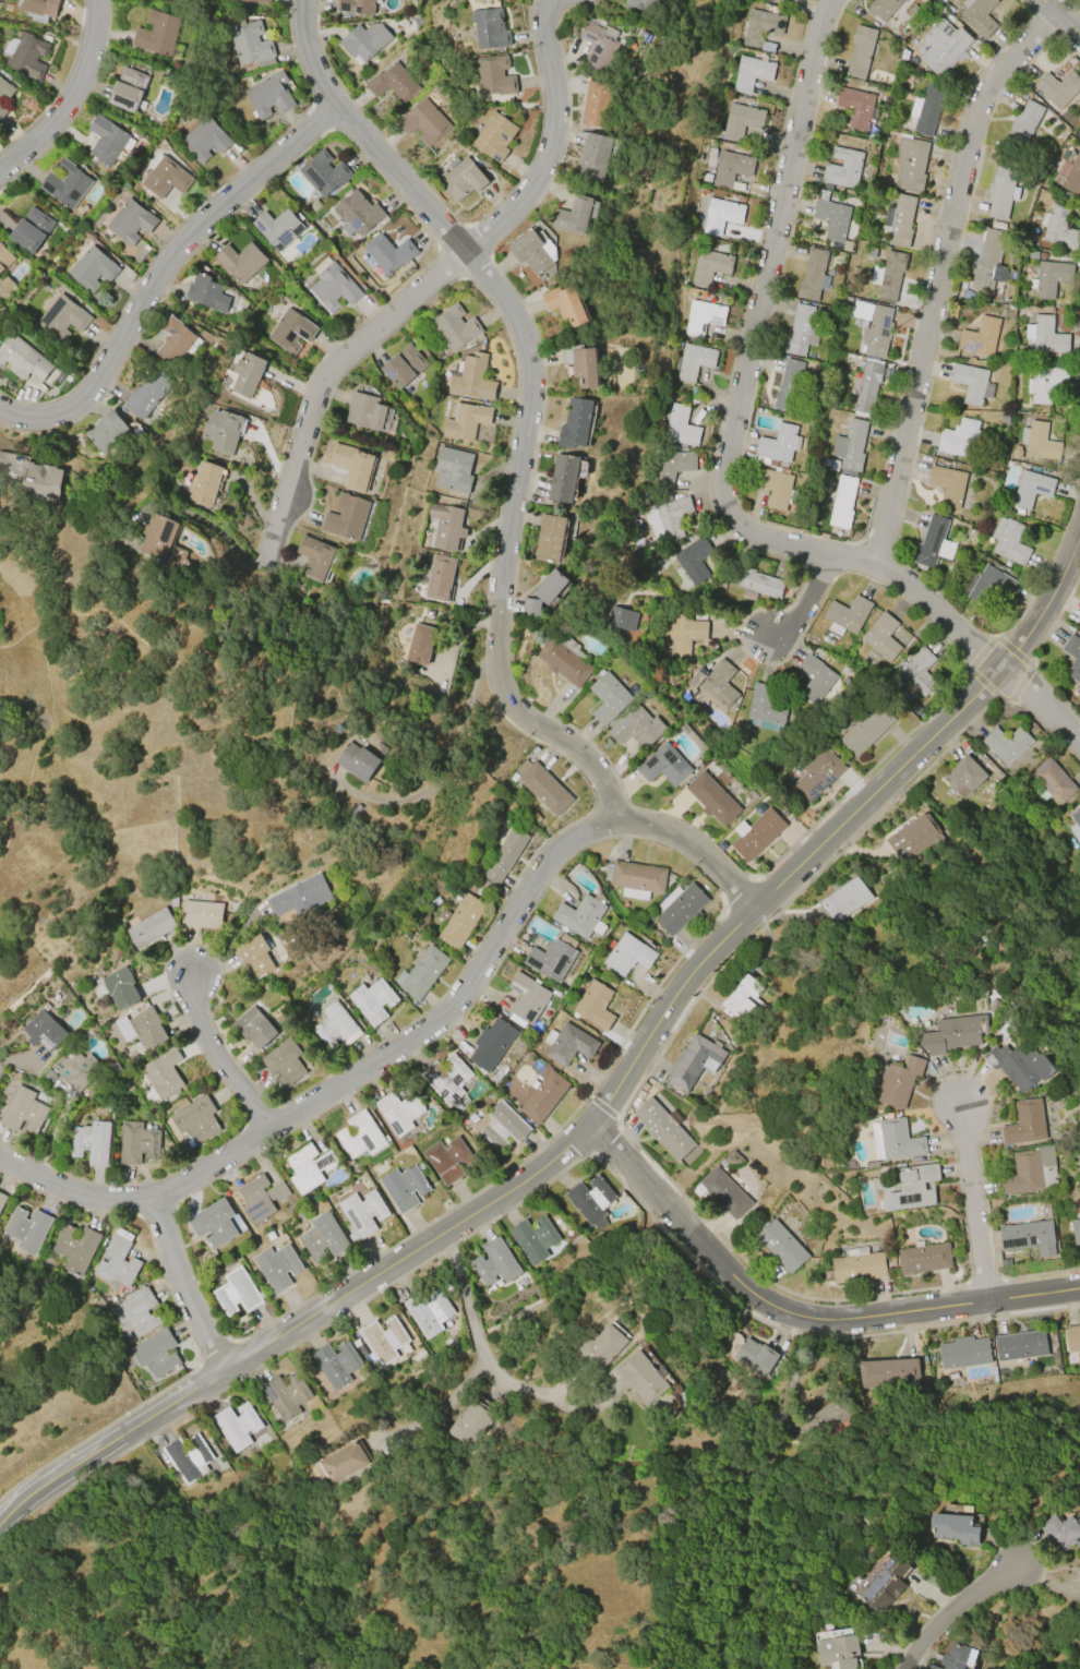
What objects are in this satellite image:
building: (257, 1)
building: (641, 4)
building: (356, 5)
building: (37, 9)
building: (881, 9)
building: (977, 15)
road: (1060, 20)
building: (489, 28)
building: (761, 28)
building: (156, 33)
building: (363, 40)
building: (250, 43)
building: (598, 45)
building: (944, 48)
building: (860, 51)
building: (25, 56)
building: (752, 73)
building: (494, 75)
building: (392, 82)
building: (1058, 88)
building: (128, 89)
building: (3, 95)
building: (268, 95)
road: (73, 98)
building: (597, 104)
building: (857, 107)
building: (926, 109)
building: (741, 120)
building: (423, 122)
building: (1023, 124)
building: (494, 136)
building: (107, 139)
road: (551, 139)
building: (205, 140)
building: (595, 157)
building: (910, 164)
building: (843, 168)
building: (731, 169)
building: (324, 173)
building: (1072, 176)
building: (167, 177)
building: (459, 179)
building: (889, 179)
building: (67, 184)
building: (999, 193)
building: (357, 213)
building: (720, 215)
building: (573, 216)
building: (831, 219)
building: (899, 220)
building: (131, 221)
building: (277, 228)
building: (1059, 228)
building: (29, 229)
building: (532, 252)
building: (387, 254)
building: (4, 259)
building: (240, 262)
building: (988, 262)
building: (709, 266)
building: (93, 269)
road: (166, 274)
building: (812, 275)
building: (888, 275)
road: (938, 275)
building: (1049, 278)
building: (5, 286)
building: (333, 288)
building: (206, 293)
building: (566, 303)
building: (861, 311)
road: (759, 313)
building: (701, 316)
building: (62, 317)
building: (455, 327)
building: (290, 331)
building: (799, 331)
building: (877, 332)
building: (1045, 335)
building: (979, 337)
building: (176, 340)
building: (23, 358)
building: (693, 361)
building: (583, 364)
building: (403, 367)
building: (247, 374)
building: (472, 379)
building: (970, 383)
building: (1045, 383)
building: (788, 385)
building: (867, 386)
road: (317, 388)
building: (146, 394)
road: (529, 398)
building: (369, 413)
building: (1004, 420)
building: (466, 421)
building: (576, 424)
building: (680, 427)
building: (106, 431)
building: (223, 431)
building: (958, 437)
building: (1037, 441)
building: (779, 444)
building: (850, 447)
building: (1016, 453)
building: (352, 464)
building: (827, 464)
building: (672, 466)
building: (453, 470)
building: (563, 478)
building: (39, 480)
building: (205, 482)
building: (948, 484)
building: (776, 489)
building: (1031, 489)
building: (841, 502)
building: (346, 516)
building: (668, 518)
road: (203, 520)
building: (446, 525)
building: (970, 532)
building: (158, 536)
building: (550, 538)
building: (1009, 540)
building: (933, 542)
building: (315, 557)
building: (693, 560)
building: (440, 578)
building: (753, 581)
building: (989, 585)
building: (550, 586)
road: (811, 599)
building: (530, 607)
building: (847, 614)
building: (621, 619)
building: (1079, 621)
building: (684, 635)
road: (965, 636)
building: (883, 637)
building: (420, 644)
building: (1072, 658)
building: (563, 662)
building: (916, 672)
building: (815, 680)
building: (719, 685)
building: (608, 698)
building: (914, 708)
building: (765, 709)
building: (636, 727)
building: (866, 730)
building: (1007, 744)
building: (357, 761)
road: (447, 765)
building: (663, 765)
building: (817, 775)
building: (962, 776)
building: (1054, 781)
building: (542, 788)
building: (711, 797)
building: (1076, 827)
building: (756, 833)
building: (910, 836)
road: (695, 848)
building: (504, 855)
building: (634, 878)
building: (300, 897)
building: (843, 900)
building: (172, 901)
building: (680, 908)
building: (200, 914)
building: (580, 916)
building: (422, 918)
building: (459, 921)
building: (151, 928)
building: (629, 954)
building: (253, 956)
building: (552, 958)
building: (421, 972)
building: (117, 987)
building: (743, 999)
building: (528, 1000)
building: (371, 1001)
building: (596, 1006)
building: (253, 1026)
building: (147, 1028)
building: (334, 1028)
building: (44, 1031)
building: (953, 1033)
building: (491, 1043)
building: (568, 1045)
road: (219, 1057)
building: (695, 1061)
building: (284, 1062)
building: (1019, 1064)
building: (115, 1067)
building: (76, 1069)
building: (164, 1072)
building: (445, 1078)
road: (344, 1080)
building: (898, 1081)
building: (543, 1095)
road: (609, 1102)
building: (22, 1109)
building: (398, 1110)
building: (195, 1119)
building: (1025, 1124)
building: (503, 1126)
building: (662, 1126)
building: (359, 1134)
building: (895, 1140)
building: (89, 1142)
building: (136, 1143)
building: (448, 1158)
building: (732, 1158)
building: (307, 1167)
building: (1030, 1172)
building: (403, 1188)
building: (912, 1188)
road: (529, 1192)
building: (725, 1192)
building: (2, 1198)
building: (259, 1198)
building: (590, 1198)
road: (975, 1204)
building: (362, 1212)
building: (214, 1223)
building: (26, 1229)
building: (1076, 1232)
building: (1030, 1237)
building: (322, 1238)
building: (533, 1238)
building: (781, 1246)
building: (75, 1248)
building: (923, 1258)
building: (117, 1263)
building: (493, 1263)
building: (859, 1265)
building: (276, 1266)
road: (185, 1287)
building: (236, 1293)
building: (428, 1311)
building: (136, 1312)
road: (800, 1314)
building: (1079, 1322)
building: (1073, 1337)
building: (383, 1340)
road: (477, 1340)
building: (1020, 1346)
building: (600, 1348)
building: (155, 1353)
building: (962, 1353)
building: (756, 1357)
building: (335, 1364)
building: (887, 1372)
building: (641, 1377)
building: (285, 1395)
road: (437, 1410)
building: (826, 1416)
building: (236, 1424)
building: (470, 1425)
building: (187, 1456)
building: (343, 1462)
building: (953, 1528)
building: (1061, 1530)
building: (884, 1585)
road: (957, 1610)
building: (838, 1653)
building: (956, 1656)
building: (934, 1667)

